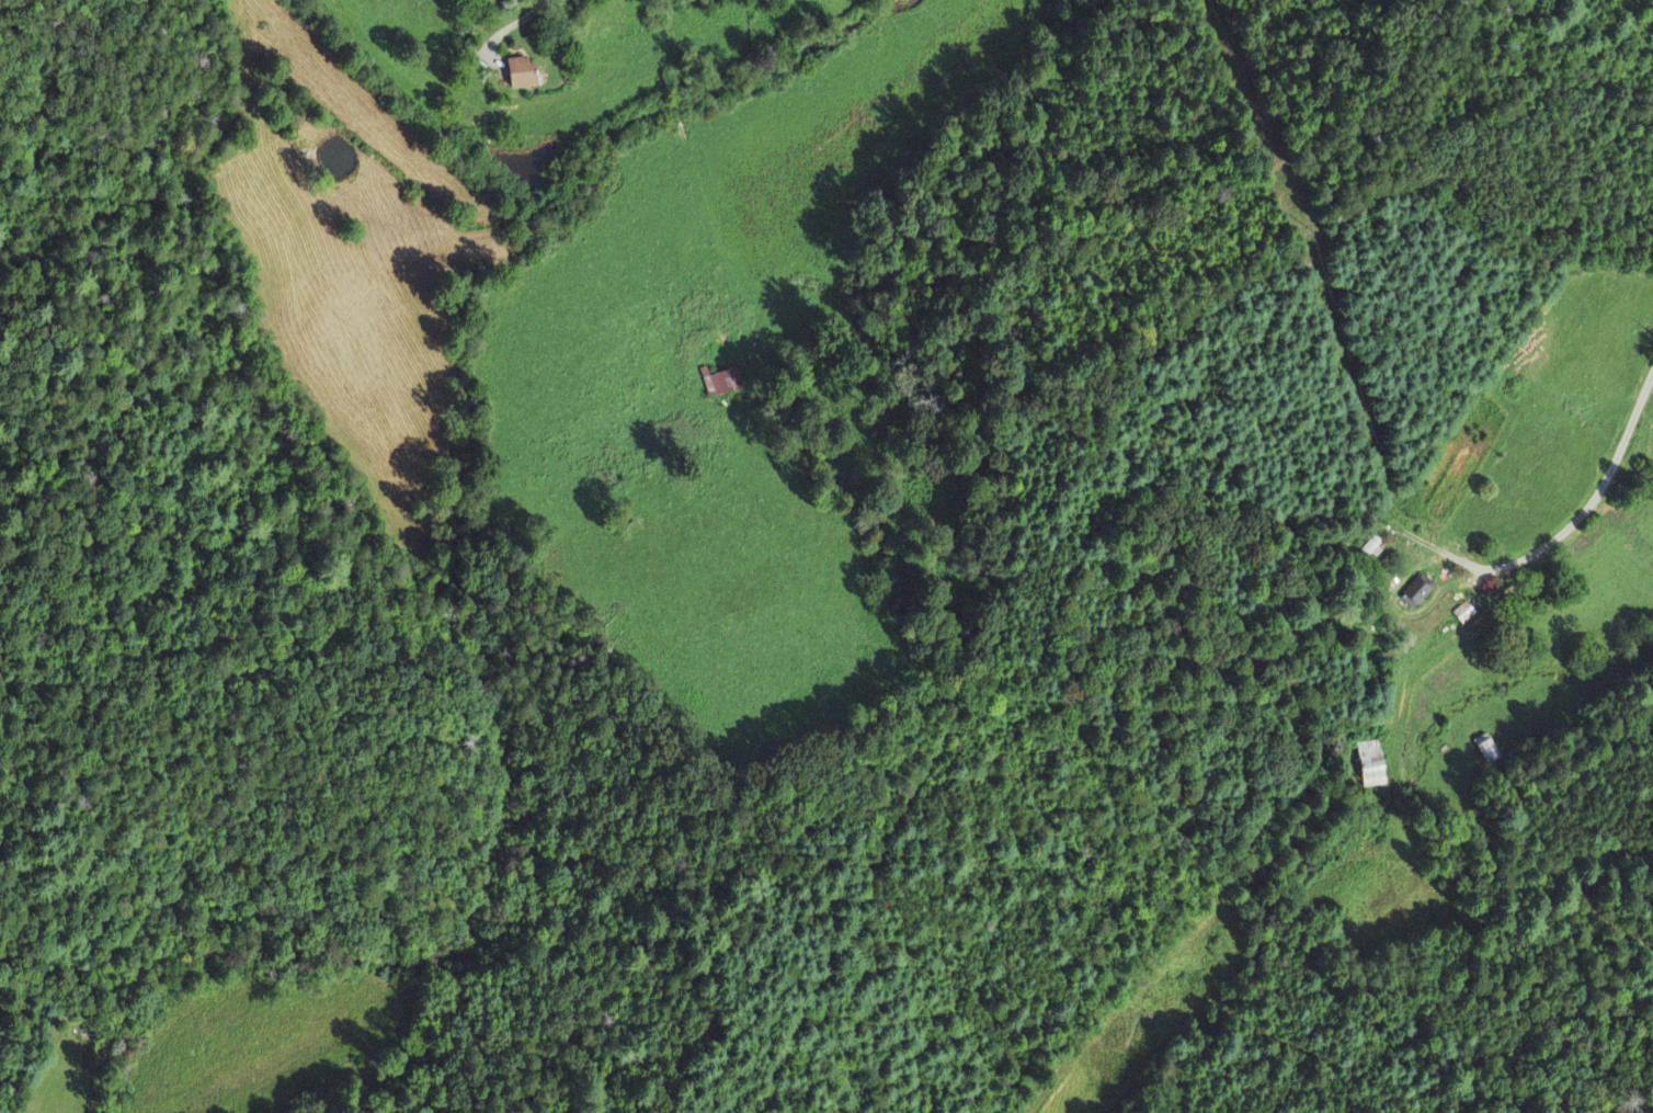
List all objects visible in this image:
building: (517, 76)
building: (720, 384)
road: (1595, 496)
building: (1369, 549)
building: (1416, 593)
building: (1370, 765)

